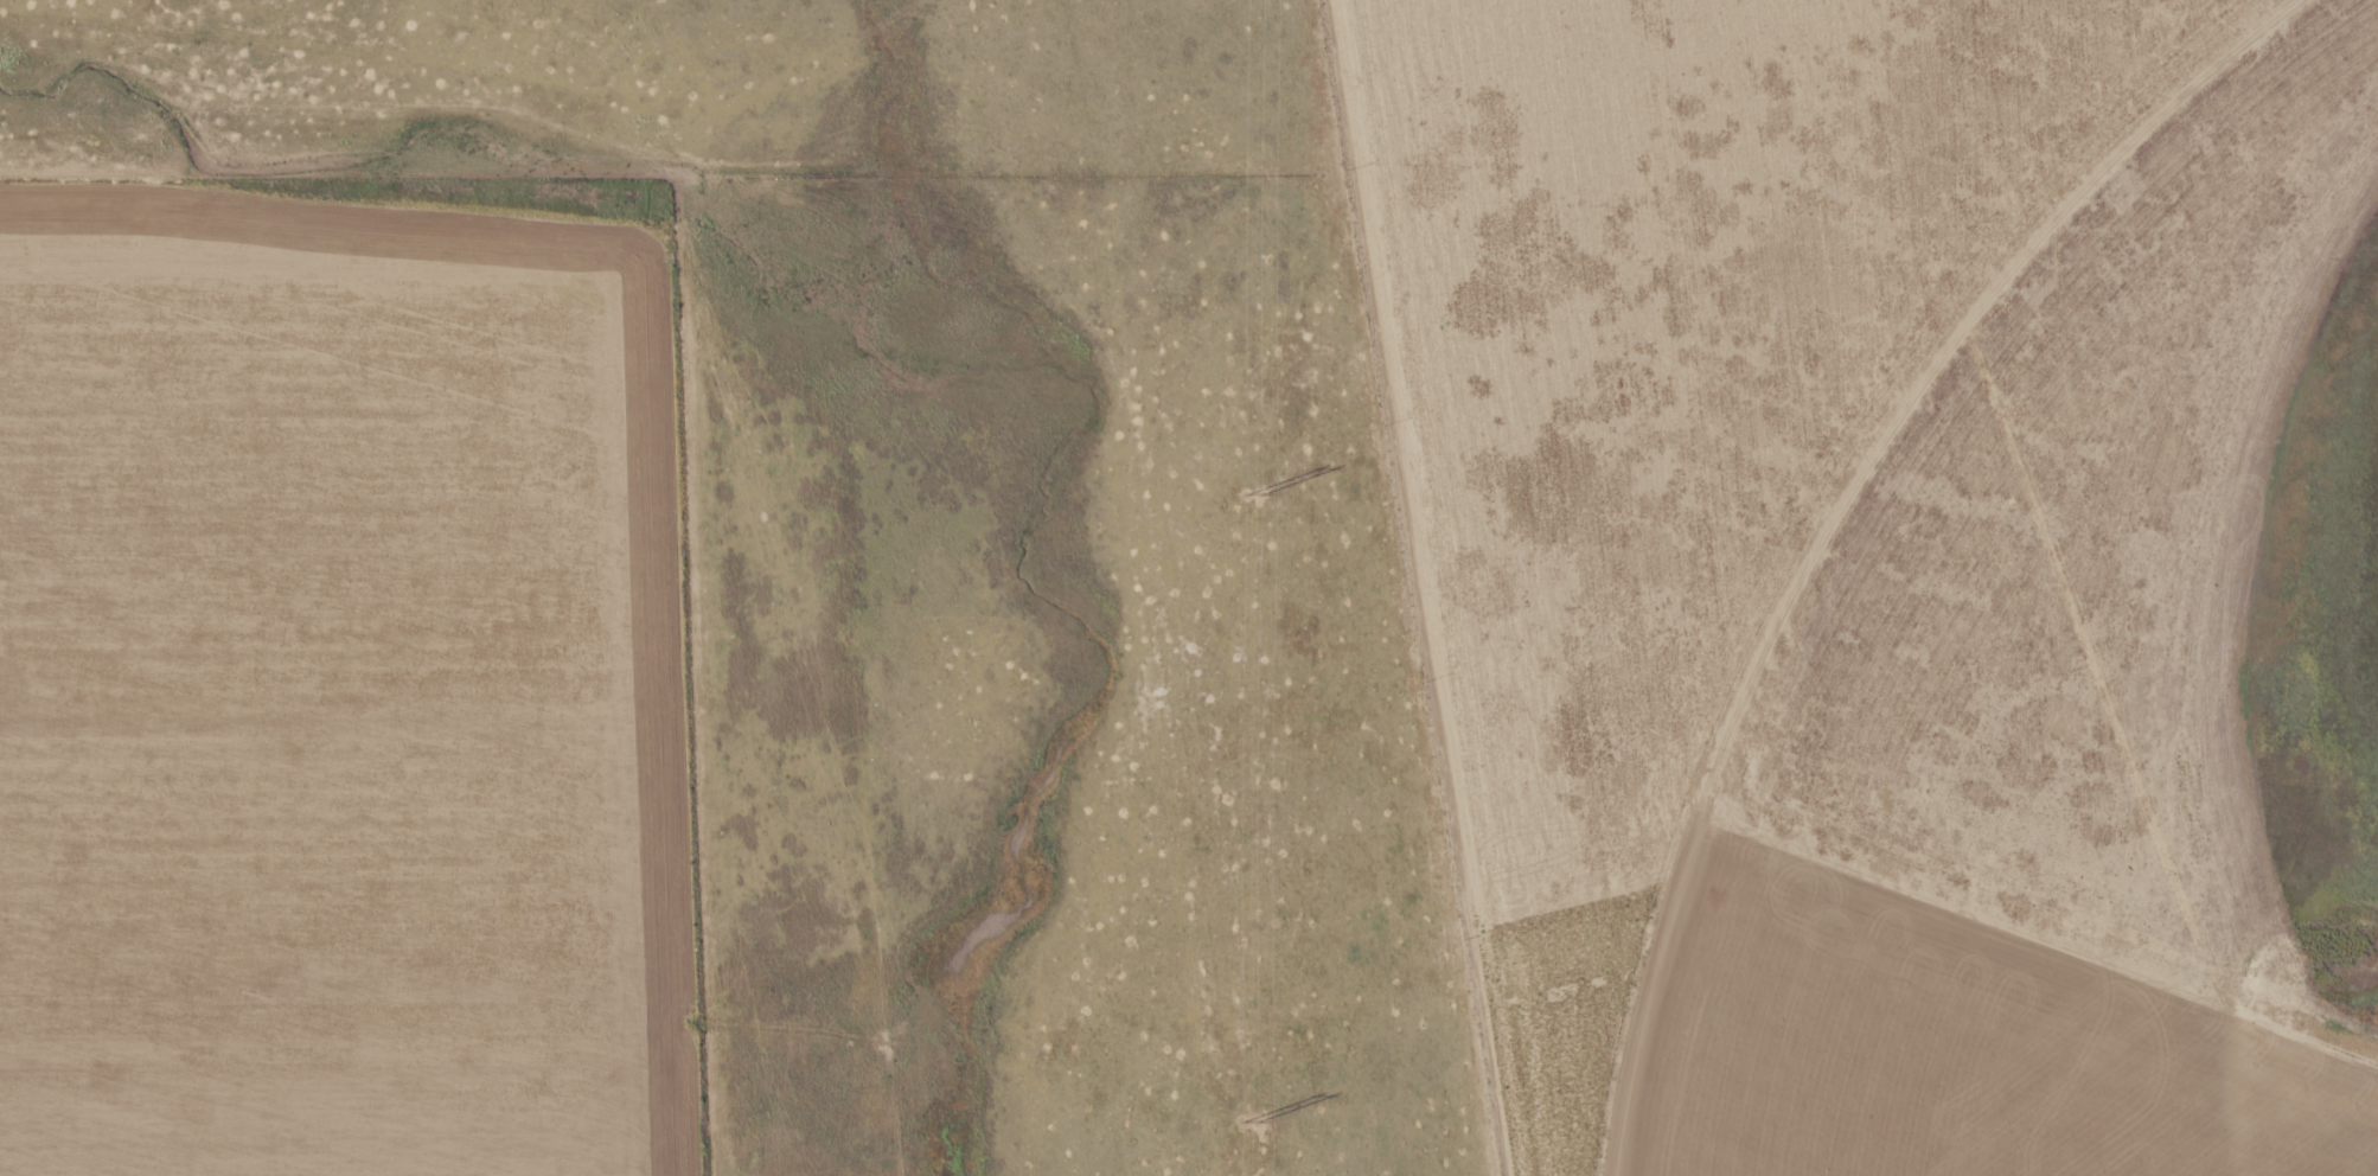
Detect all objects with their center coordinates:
power tower: (1254, 494)
power tower: (1248, 1118)

